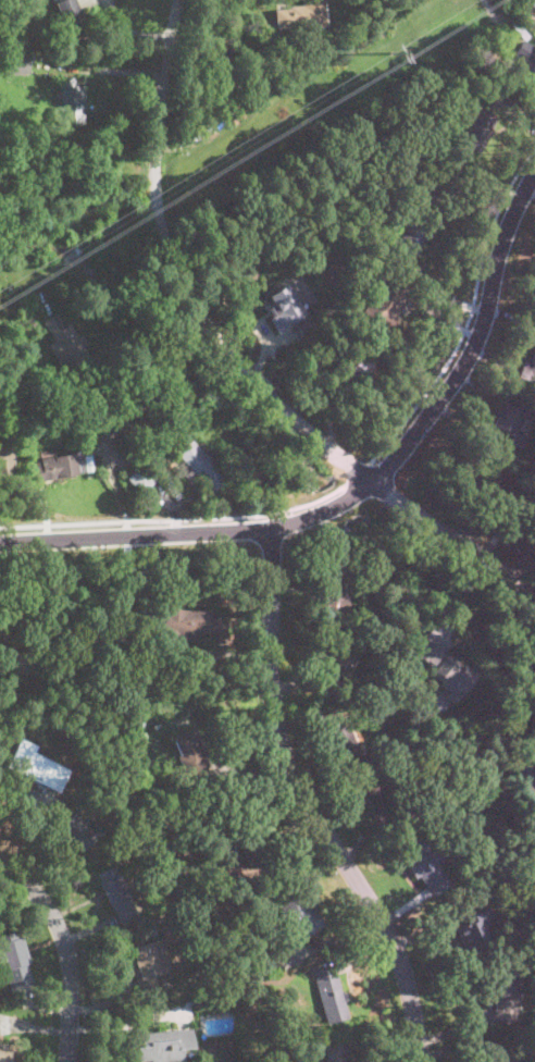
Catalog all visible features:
building: (533, 2)
building: (302, 16)
building: (72, 17)
building: (372, 22)
building: (519, 27)
power tower: (400, 49)
building: (16, 63)
building: (527, 63)
building: (221, 64)
road: (108, 69)
building: (71, 102)
building: (423, 111)
building: (405, 123)
building: (480, 129)
building: (426, 148)
building: (352, 174)
building: (441, 183)
building: (408, 235)
road: (87, 240)
building: (356, 248)
road: (433, 286)
building: (386, 304)
building: (285, 309)
road: (470, 313)
building: (25, 326)
building: (531, 338)
building: (65, 343)
building: (327, 354)
road: (237, 358)
building: (352, 369)
building: (528, 370)
building: (91, 383)
building: (514, 421)
building: (120, 424)
building: (465, 424)
building: (5, 459)
building: (88, 462)
building: (202, 465)
building: (55, 467)
building: (191, 473)
road: (357, 473)
building: (142, 478)
building: (194, 479)
building: (482, 486)
road: (361, 491)
road: (174, 521)
road: (521, 558)
building: (333, 591)
building: (190, 623)
building: (88, 644)
building: (17, 663)
building: (332, 664)
building: (445, 668)
building: (139, 721)
building: (344, 745)
building: (385, 749)
building: (191, 757)
building: (36, 766)
building: (524, 776)
road: (308, 804)
building: (384, 805)
building: (444, 818)
building: (76, 832)
building: (162, 838)
building: (251, 844)
building: (165, 857)
building: (423, 866)
building: (116, 894)
building: (296, 921)
building: (260, 923)
building: (472, 927)
road: (64, 952)
building: (15, 961)
building: (148, 965)
building: (331, 995)
building: (506, 996)
road: (128, 1021)
building: (253, 1025)
building: (164, 1046)
building: (4, 1052)
building: (337, 1053)
building: (514, 1057)

